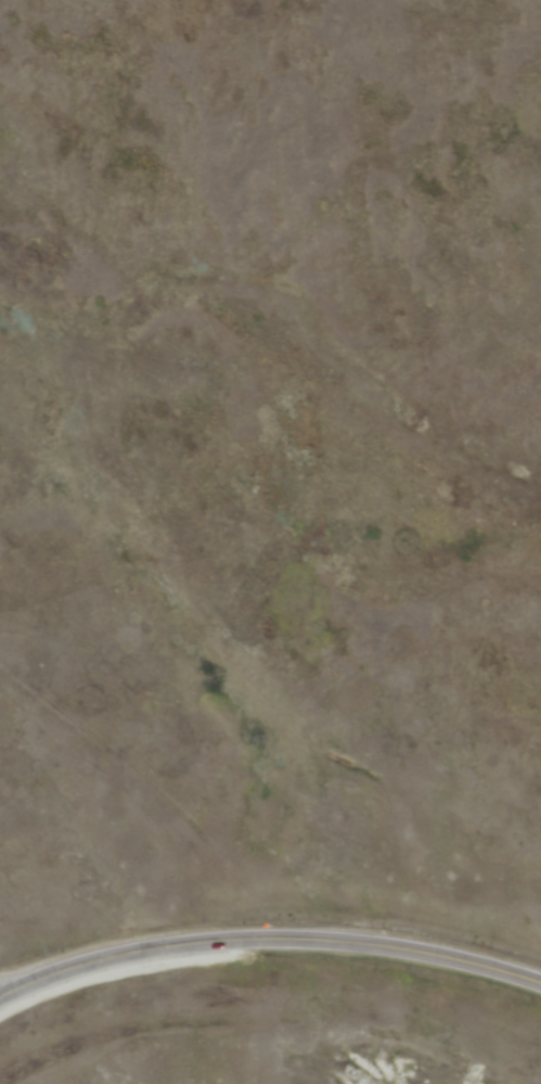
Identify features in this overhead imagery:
road: (269, 931)

